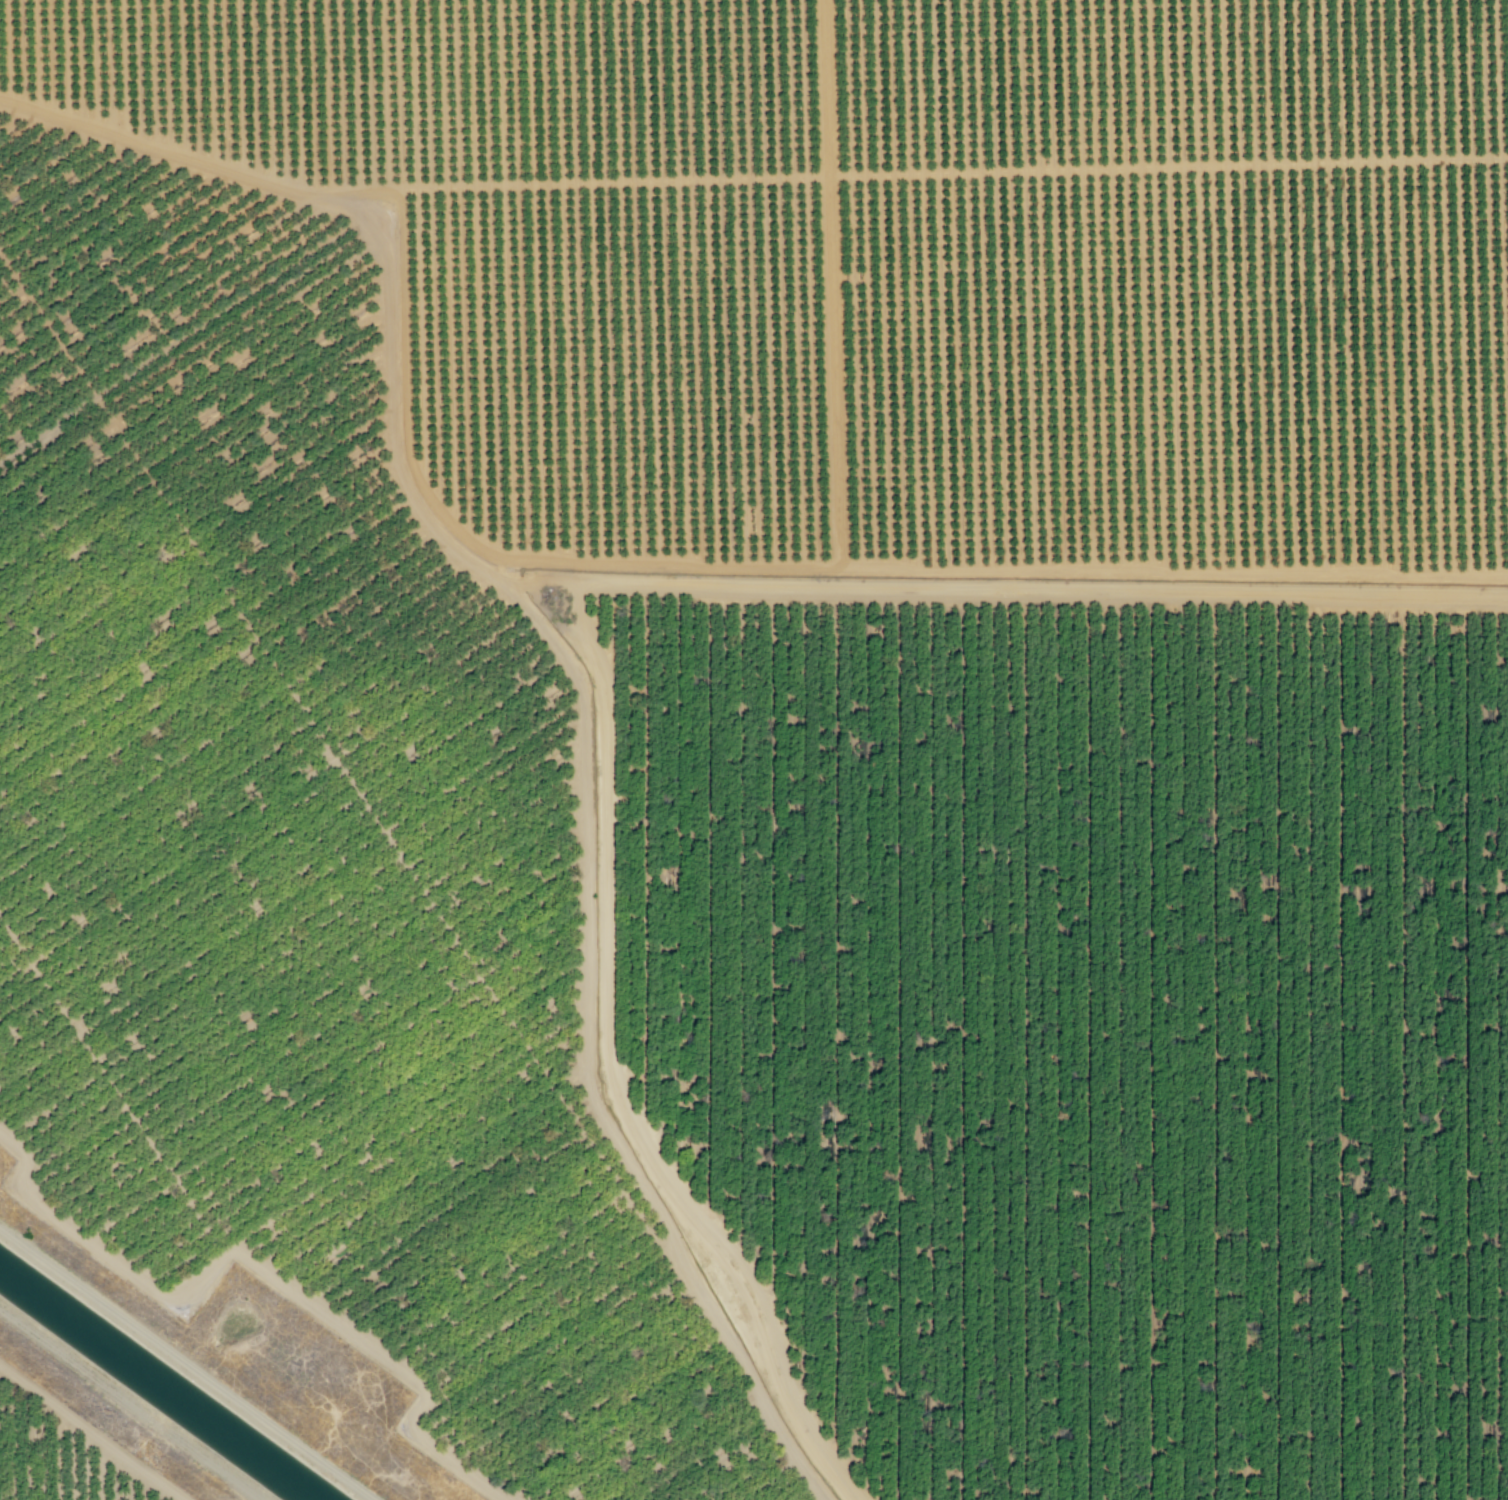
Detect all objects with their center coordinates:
road: (917, 173)
road: (834, 283)
road: (799, 566)
road: (1006, 589)
road: (567, 665)
road: (608, 1071)
road: (261, 1270)
road: (90, 1434)

